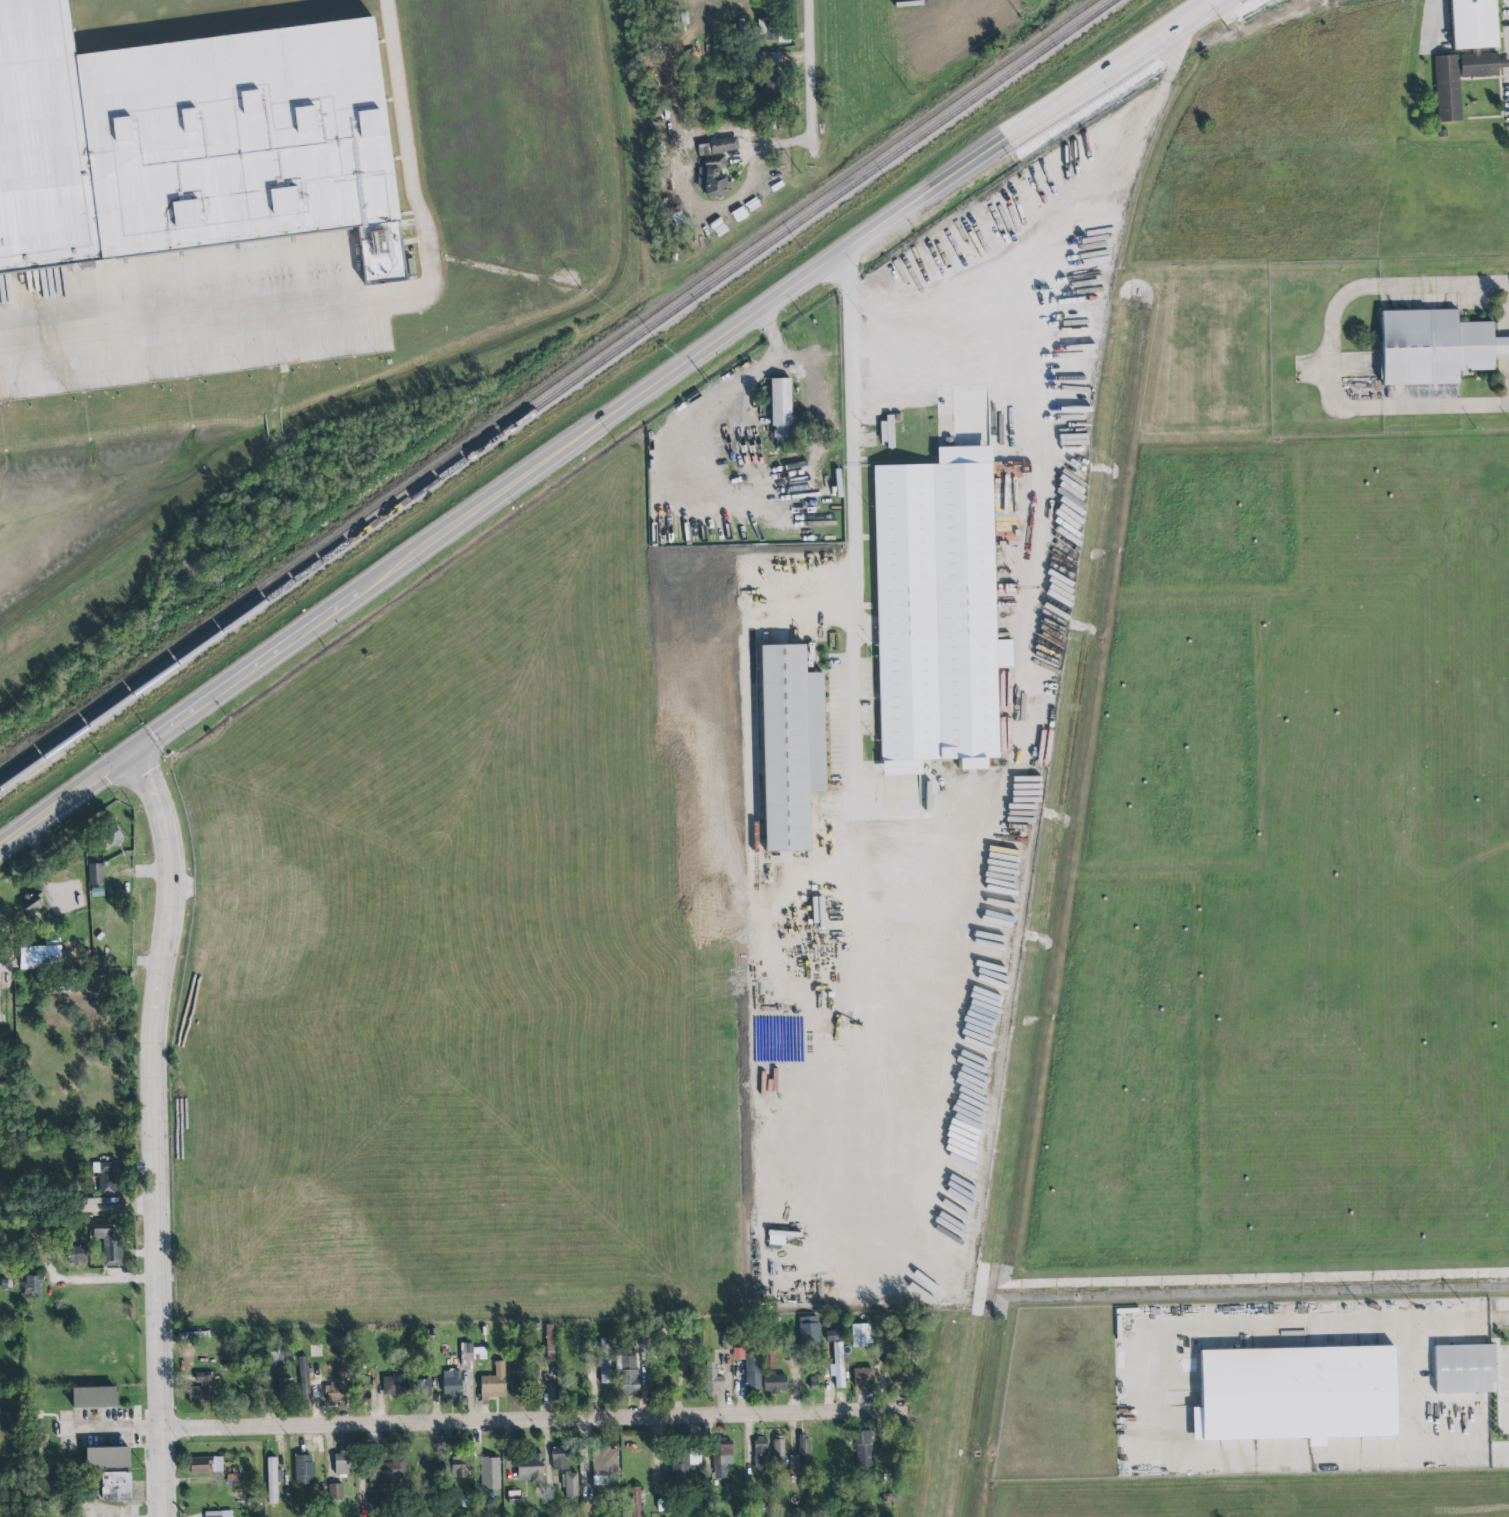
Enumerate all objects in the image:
road: (1225, 3)
building: (1476, 23)
building: (766, 30)
building: (766, 58)
road: (1089, 70)
road: (806, 74)
road: (1110, 76)
building: (769, 85)
building: (1448, 98)
building: (190, 138)
building: (1094, 141)
building: (718, 146)
building: (1067, 162)
building: (715, 176)
road: (360, 303)
road: (1506, 321)
road: (1505, 345)
building: (1434, 347)
road: (1331, 351)
road: (1505, 367)
railway: (544, 383)
road: (722, 399)
building: (780, 408)
building: (887, 432)
road: (560, 451)
road: (854, 503)
road: (1027, 559)
building: (936, 613)
building: (793, 747)
road: (753, 750)
road: (65, 802)
building: (112, 837)
building: (95, 874)
building: (34, 904)
building: (41, 956)
road: (865, 1008)
road: (153, 1131)
building: (105, 1177)
building: (779, 1239)
building: (110, 1243)
building: (77, 1255)
road: (89, 1280)
building: (33, 1287)
building: (809, 1330)
building: (834, 1335)
building: (861, 1335)
building: (550, 1342)
building: (471, 1354)
building: (739, 1354)
building: (605, 1361)
building: (838, 1364)
building: (1464, 1369)
building: (753, 1372)
building: (627, 1374)
building: (863, 1377)
building: (712, 1379)
building: (305, 1380)
building: (495, 1382)
building: (775, 1383)
building: (424, 1384)
building: (452, 1384)
building: (393, 1386)
building: (340, 1387)
building: (283, 1388)
building: (202, 1389)
road: (1139, 1393)
building: (1300, 1394)
building: (95, 1397)
road: (534, 1427)
road: (115, 1436)
building: (779, 1445)
building: (864, 1451)
building: (761, 1455)
building: (560, 1457)
building: (721, 1457)
building: (801, 1457)
building: (109, 1458)
building: (342, 1463)
building: (457, 1464)
building: (604, 1464)
building: (206, 1465)
building: (531, 1468)
building: (304, 1470)
building: (683, 1470)
building: (388, 1471)
building: (490, 1473)
building: (272, 1480)
building: (117, 1486)
building: (570, 1486)
building: (334, 1491)
building: (635, 1502)
building: (218, 1514)

